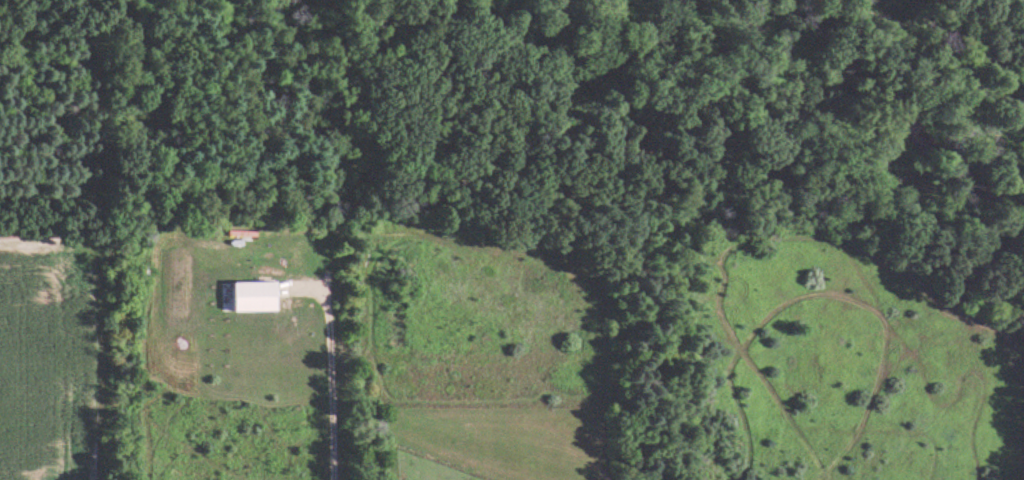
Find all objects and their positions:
crop: (46, 358)

